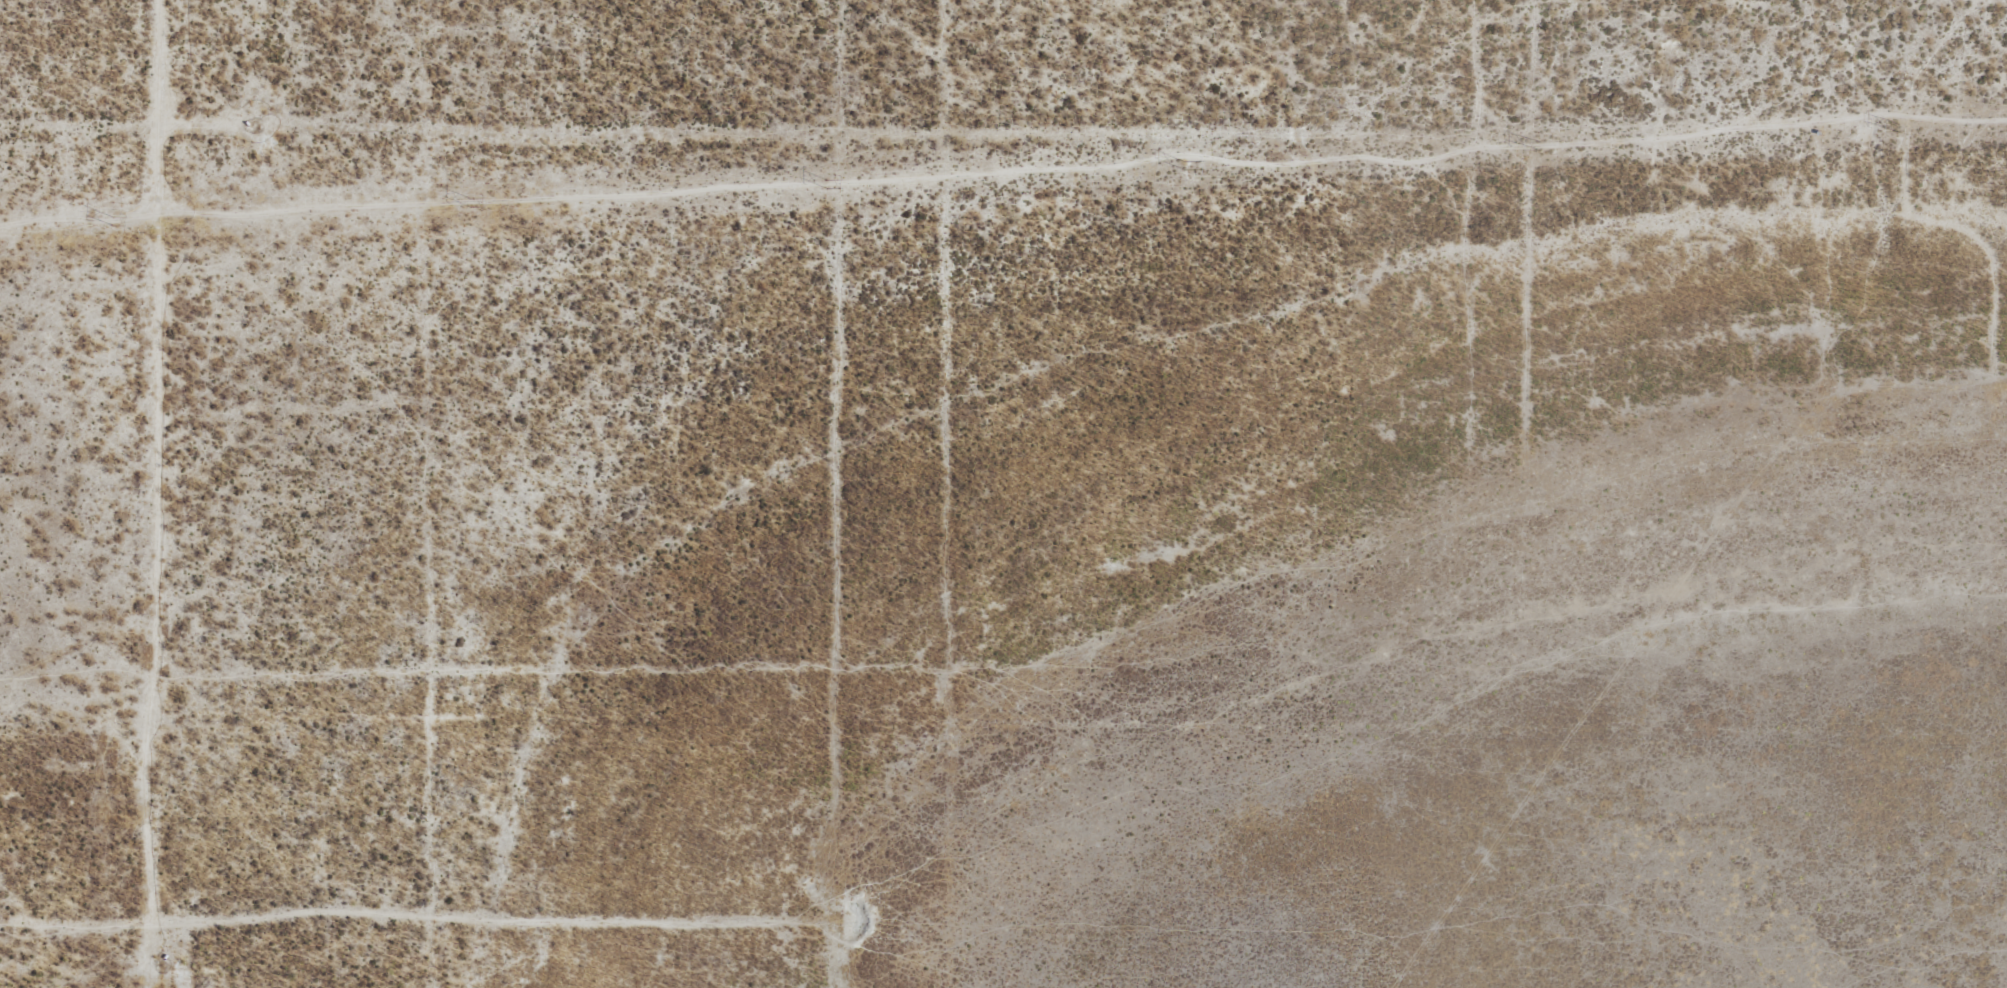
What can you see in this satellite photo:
power tower: (1897, 127)
power tower: (1540, 146)
power tower: (1183, 165)
power tower: (827, 183)
power tower: (469, 202)
power tower: (112, 221)
road: (166, 473)

